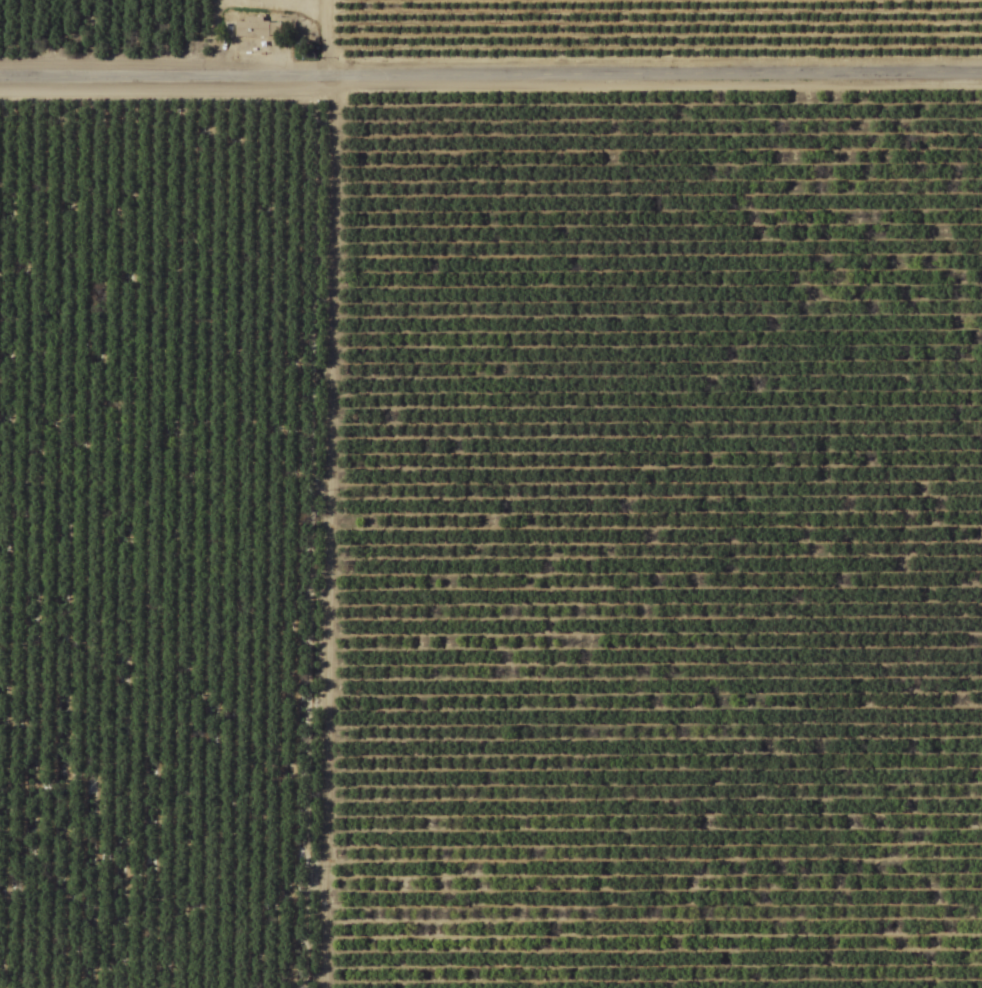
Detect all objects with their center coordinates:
building: (257, 28)
road: (491, 77)
road: (274, 494)
crop: (491, 494)

